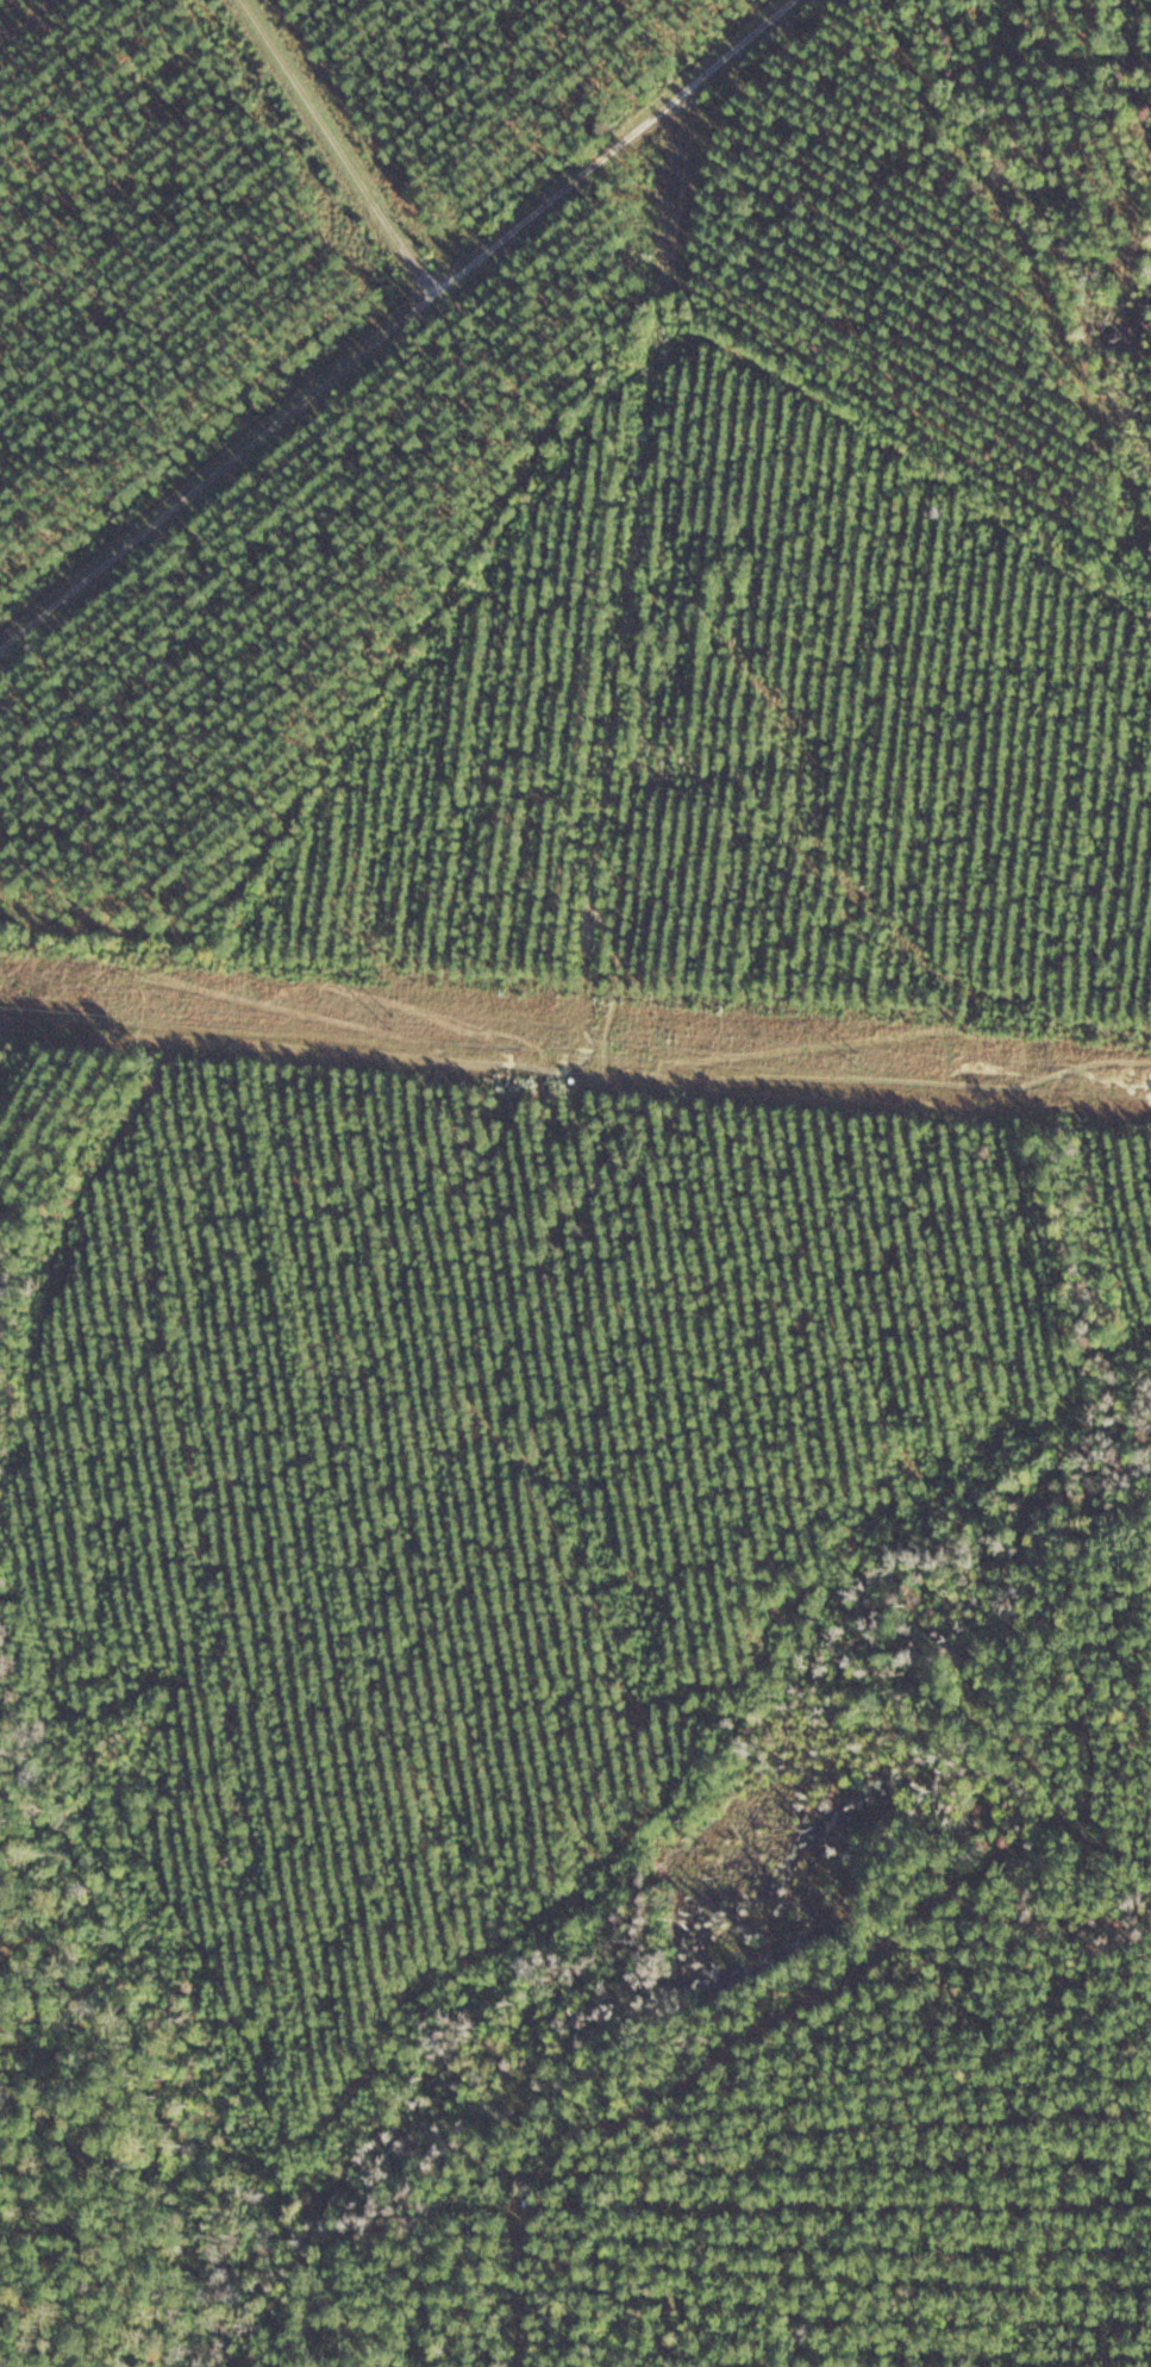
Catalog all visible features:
road: (400, 320)
road: (615, 666)
power tower: (392, 1018)
power tower: (853, 1051)

